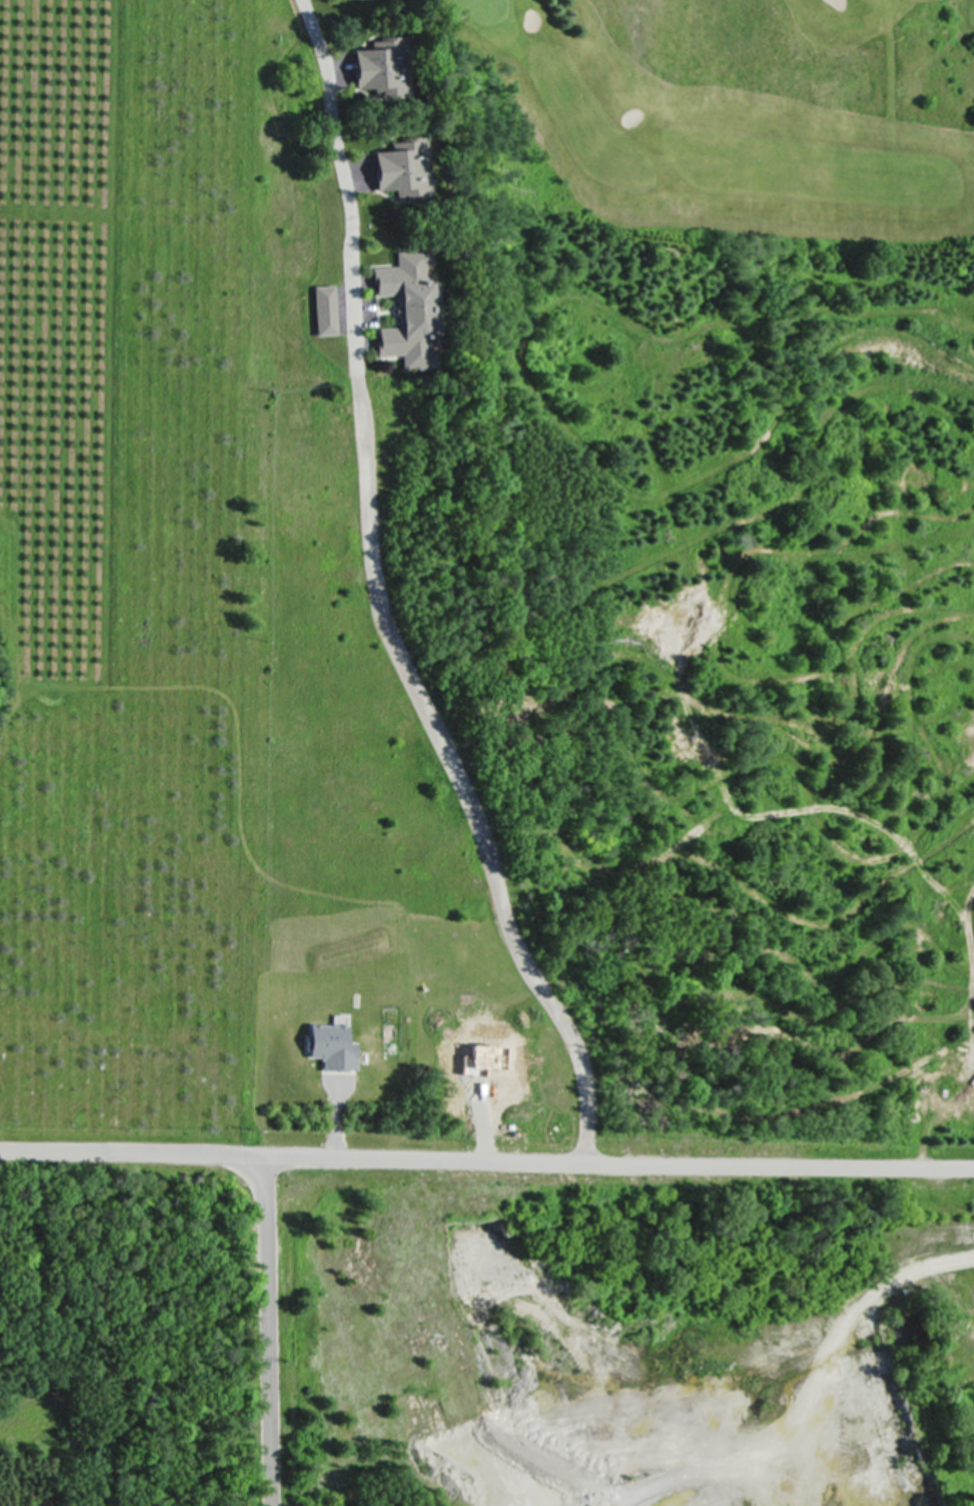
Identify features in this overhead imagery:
building: (376, 67)
park: (738, 105)
building: (322, 310)
building: (405, 311)
road: (376, 602)
building: (329, 1044)
building: (491, 1056)
building: (473, 1070)
road: (486, 1164)
road: (270, 1333)
quarry: (622, 1338)

